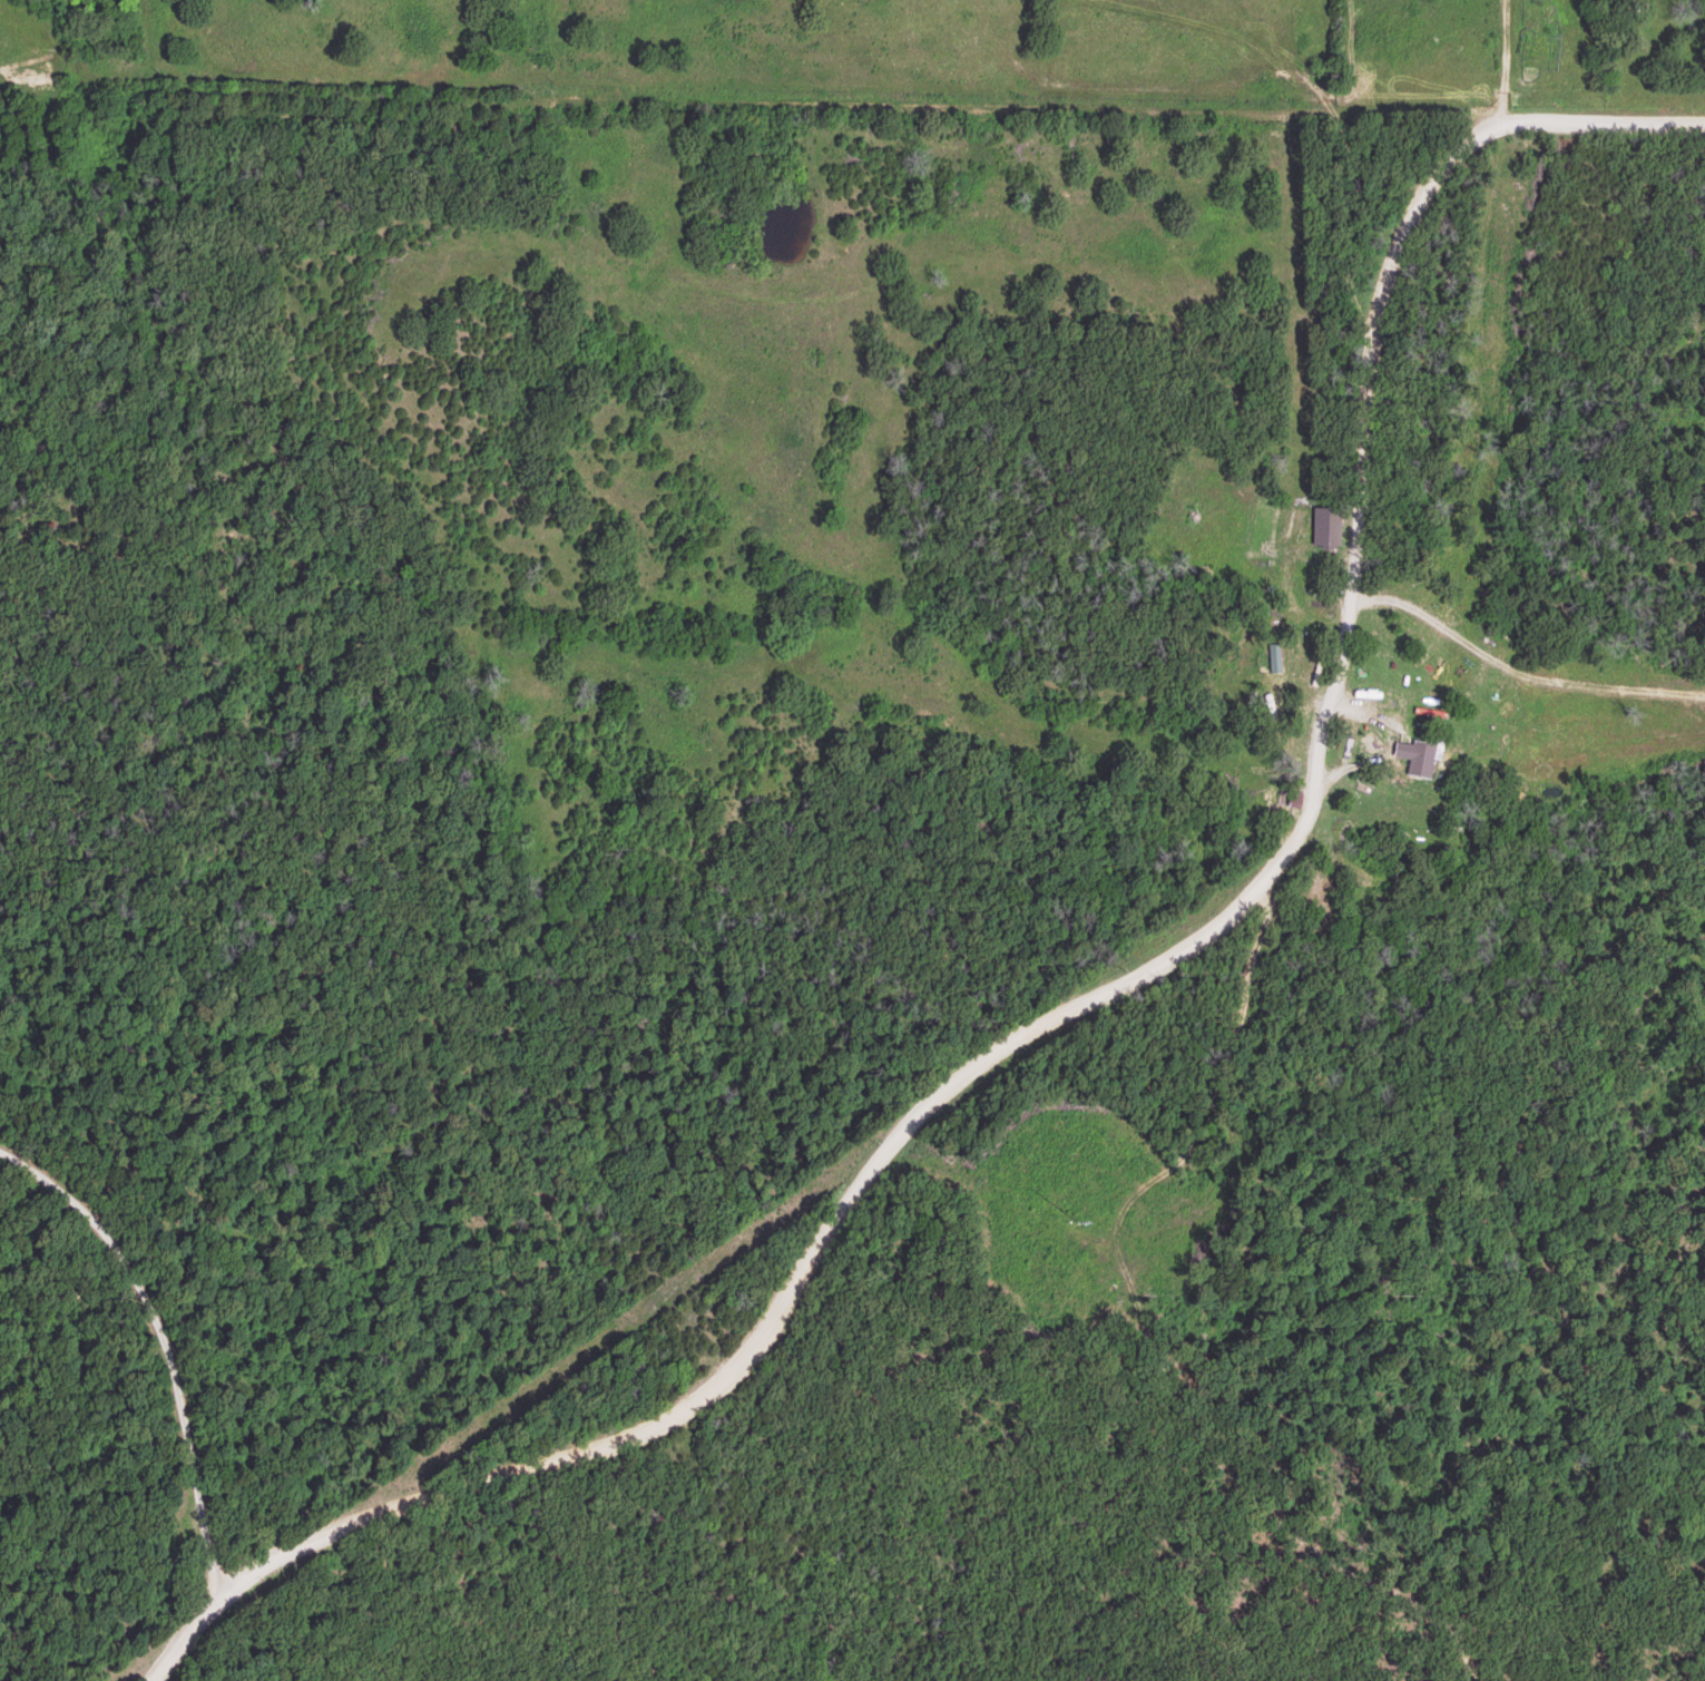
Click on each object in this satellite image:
building: (1331, 526)
building: (1277, 659)
building: (1427, 759)
road: (1159, 964)
road: (164, 1340)
road: (187, 1634)

